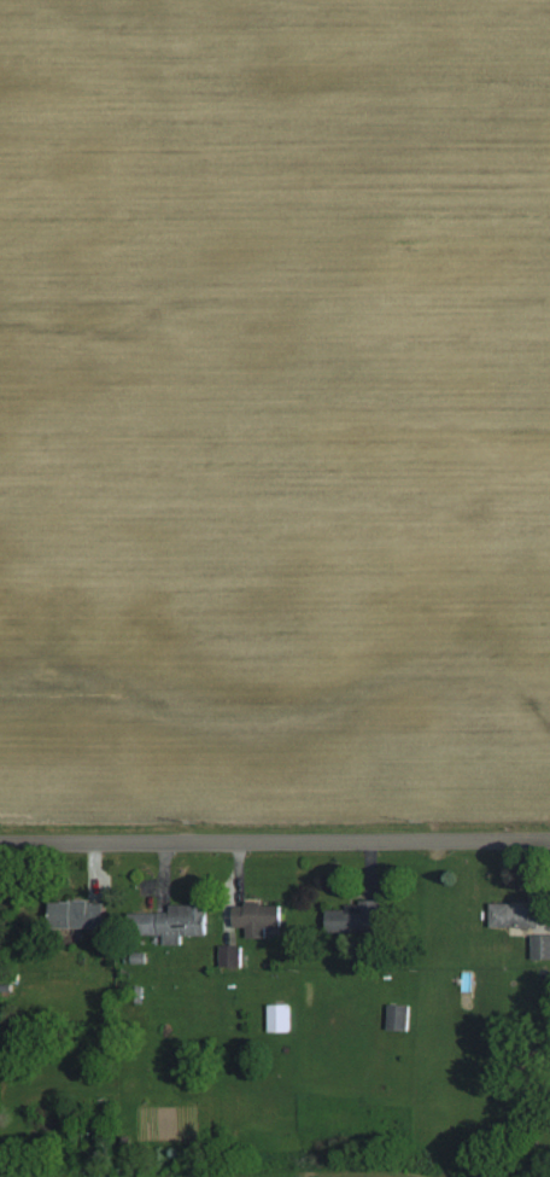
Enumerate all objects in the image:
road: (275, 844)
building: (76, 913)
building: (515, 914)
building: (355, 915)
building: (257, 917)
building: (176, 921)
building: (540, 945)
building: (230, 955)
building: (280, 1016)
building: (398, 1016)

